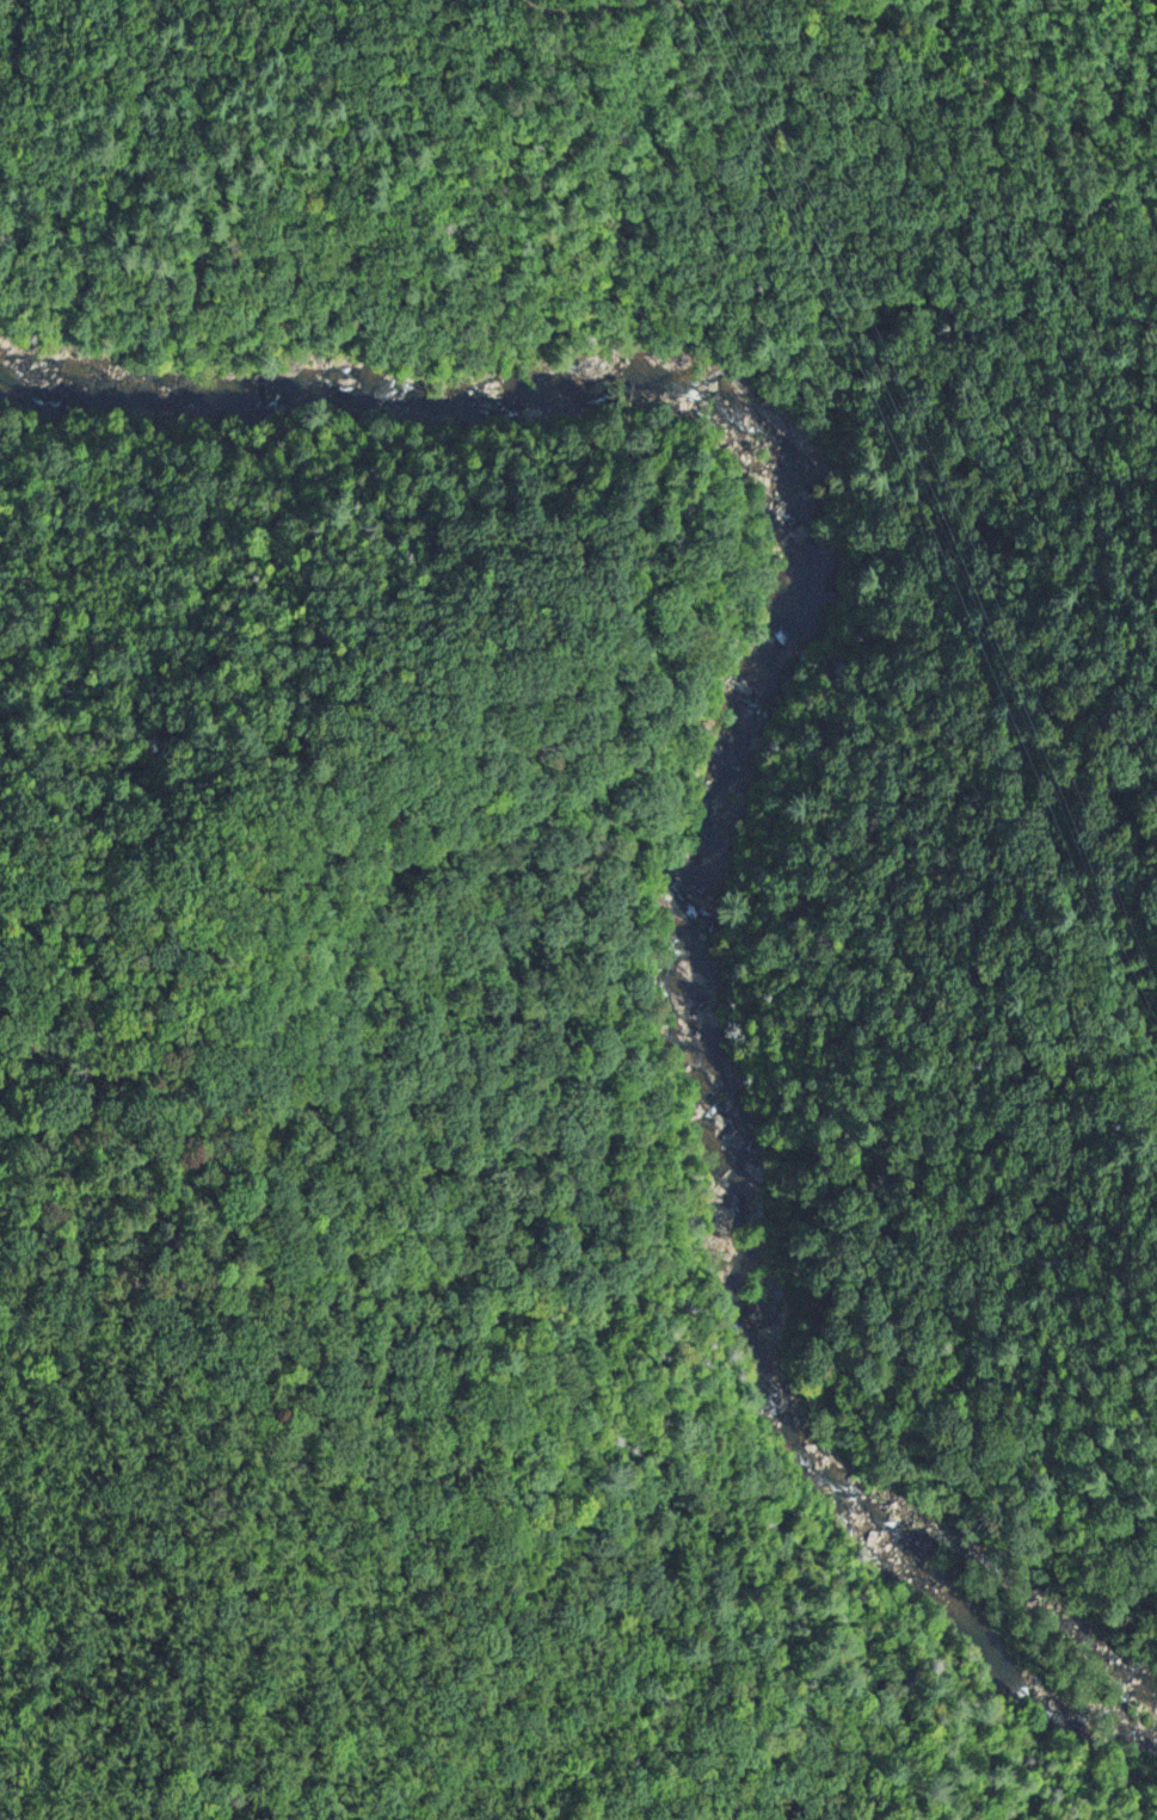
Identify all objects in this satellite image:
road: (576, 7)
road: (1002, 88)
river: (737, 772)

